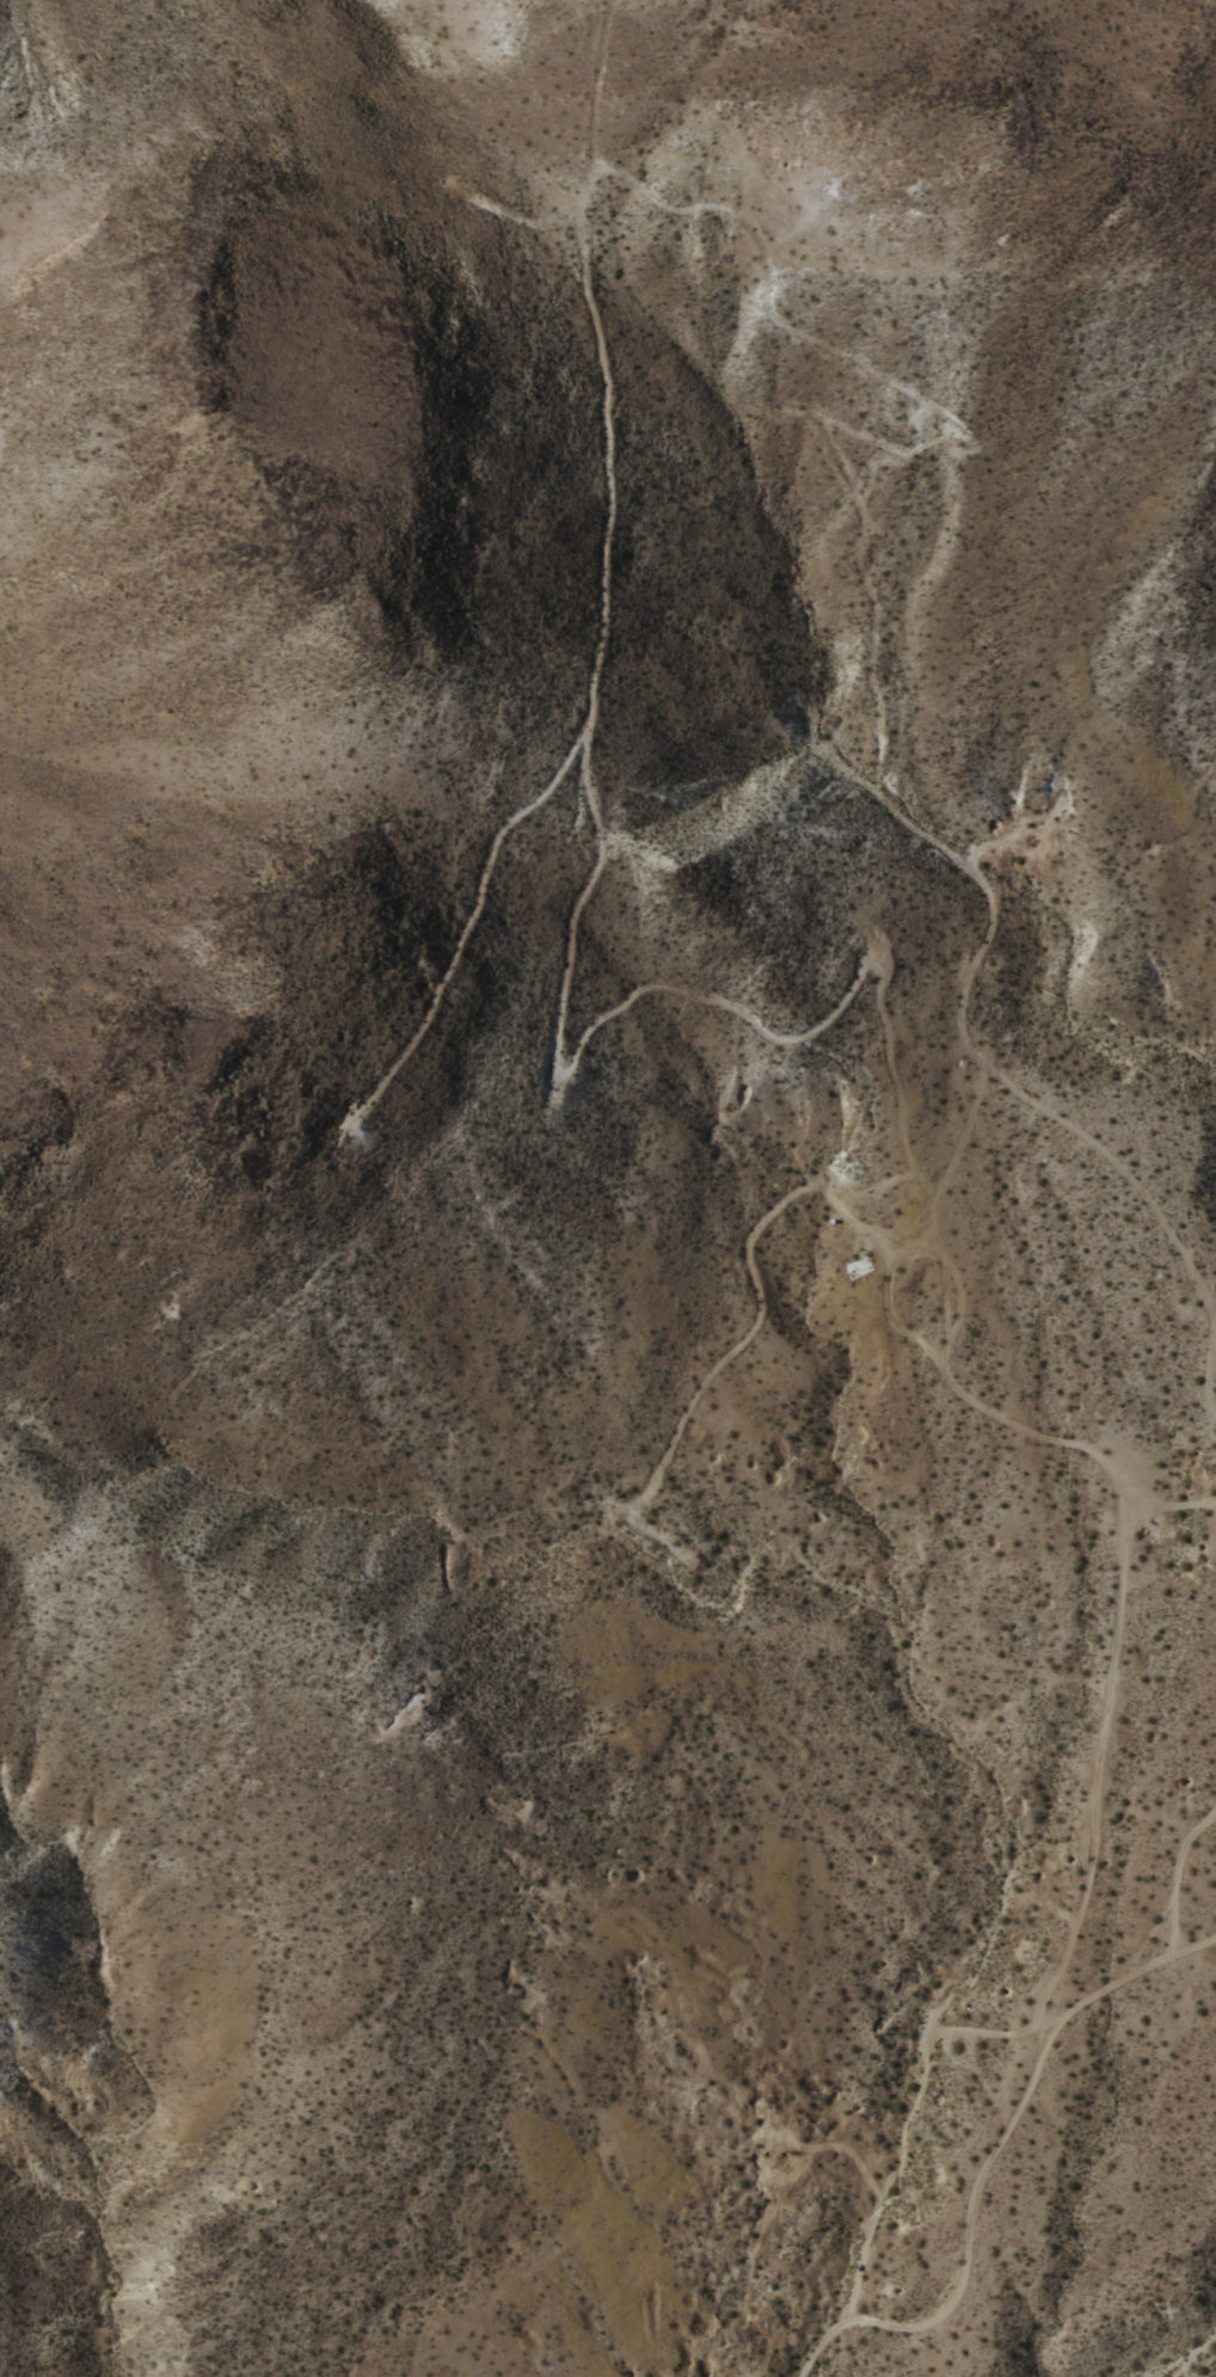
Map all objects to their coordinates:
road: (984, 892)
building: (856, 1267)
road: (753, 1283)
road: (883, 1296)
road: (1100, 1727)

